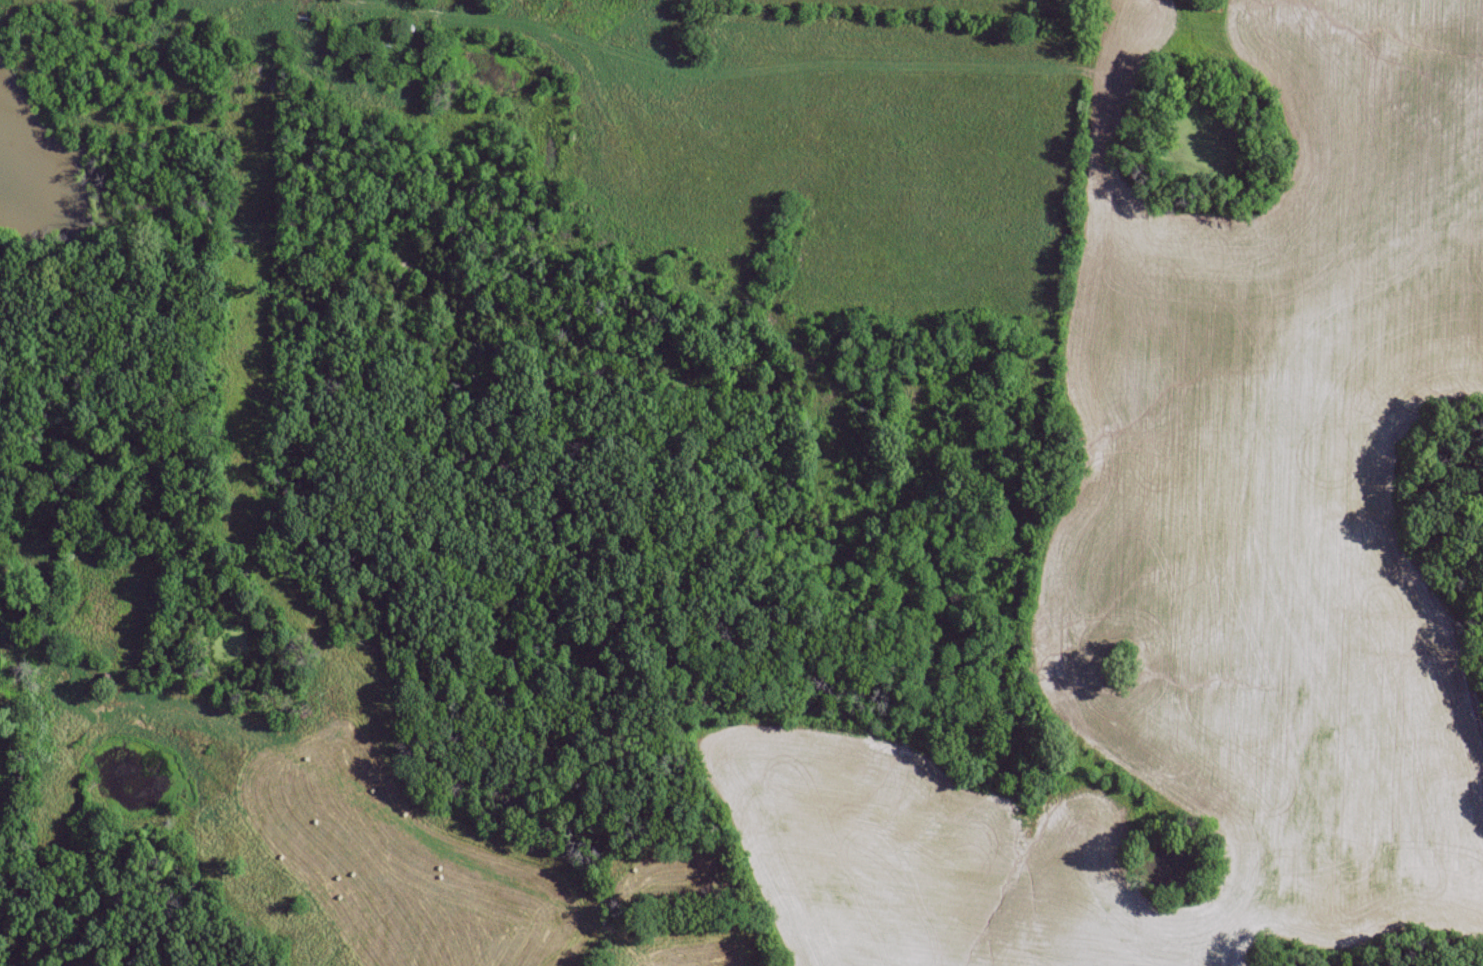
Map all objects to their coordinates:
road: (105, 678)

